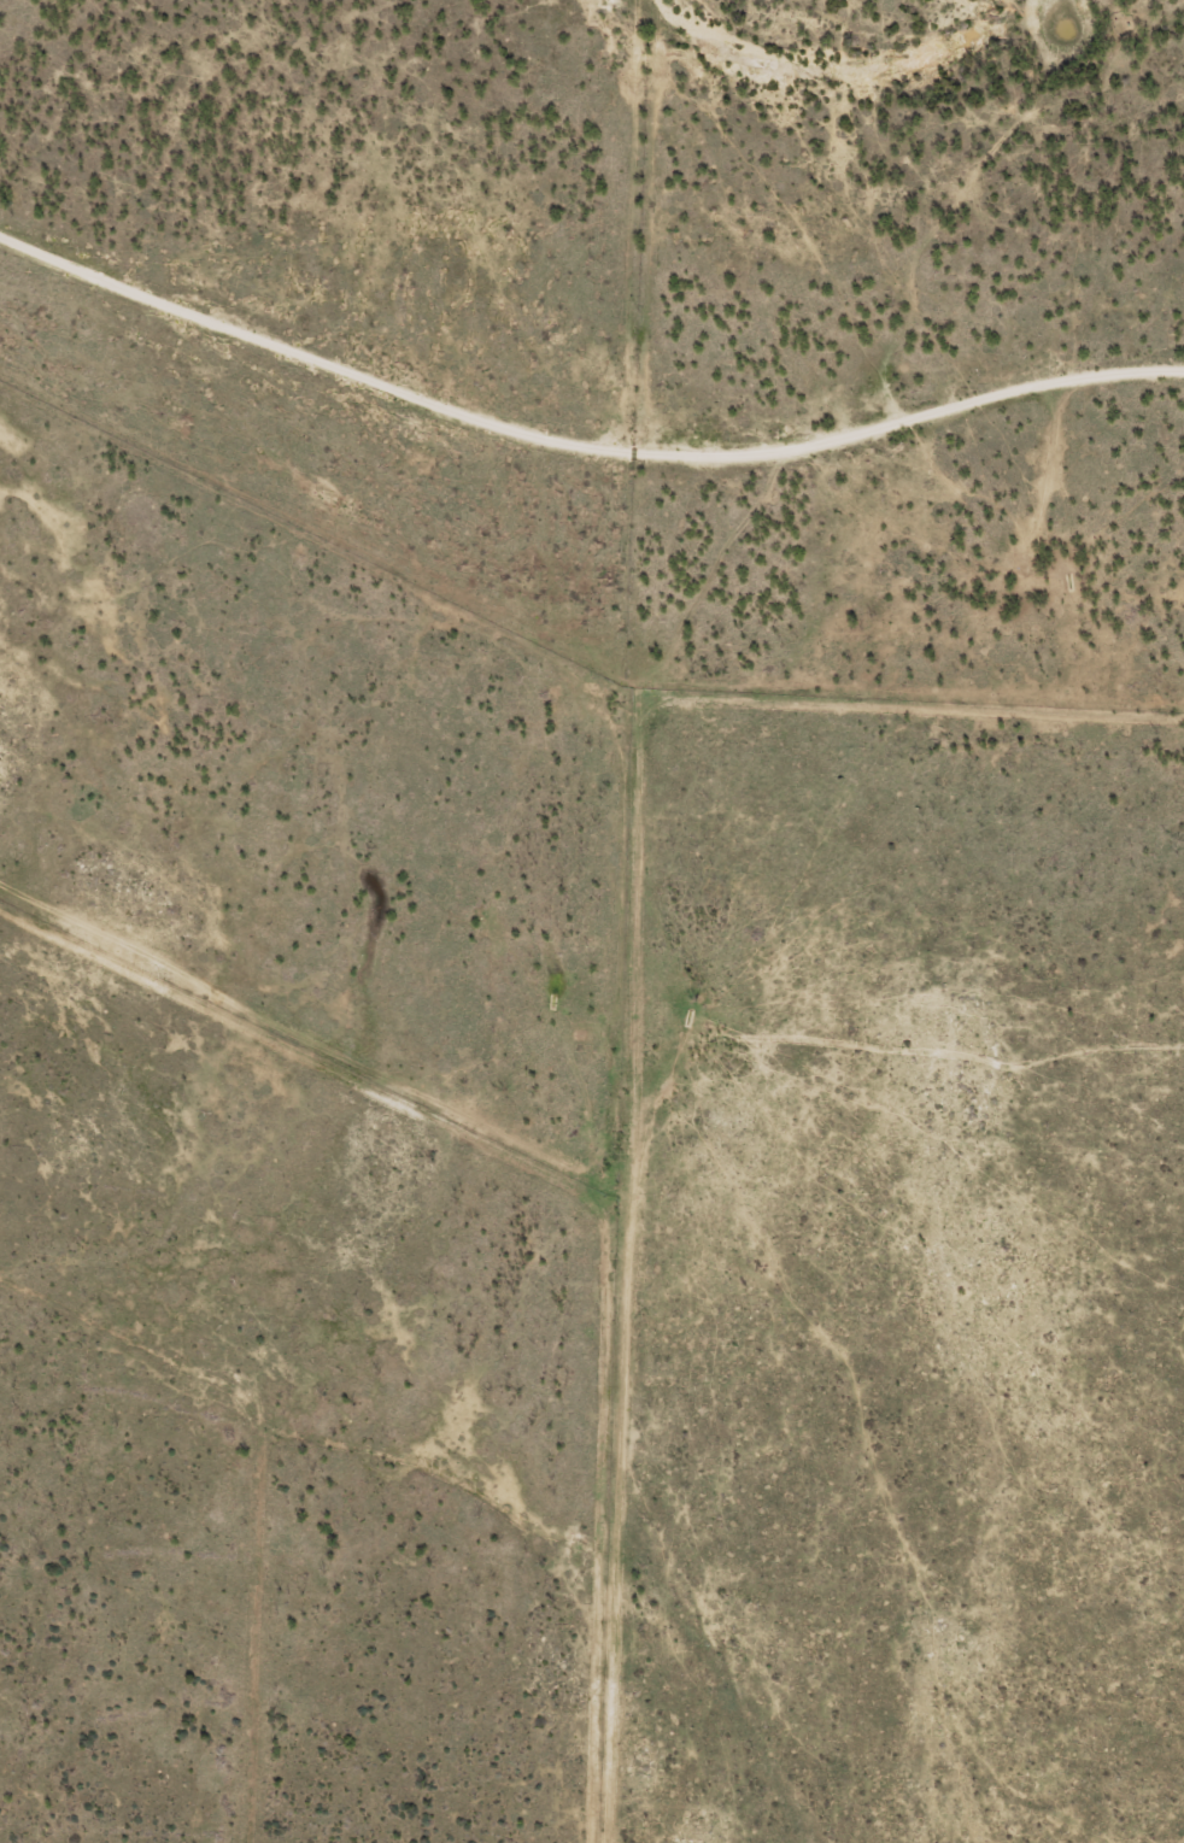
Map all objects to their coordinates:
road: (575, 465)

